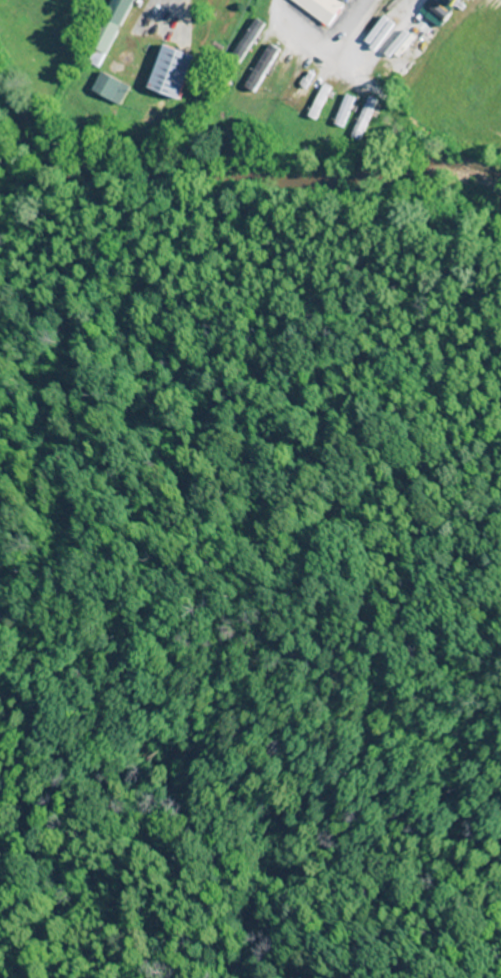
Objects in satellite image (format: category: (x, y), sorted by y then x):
building: (349, 0)
building: (322, 9)
building: (107, 32)
building: (262, 67)
building: (173, 70)
building: (279, 81)
building: (111, 87)
building: (319, 101)
building: (344, 111)
building: (363, 119)

